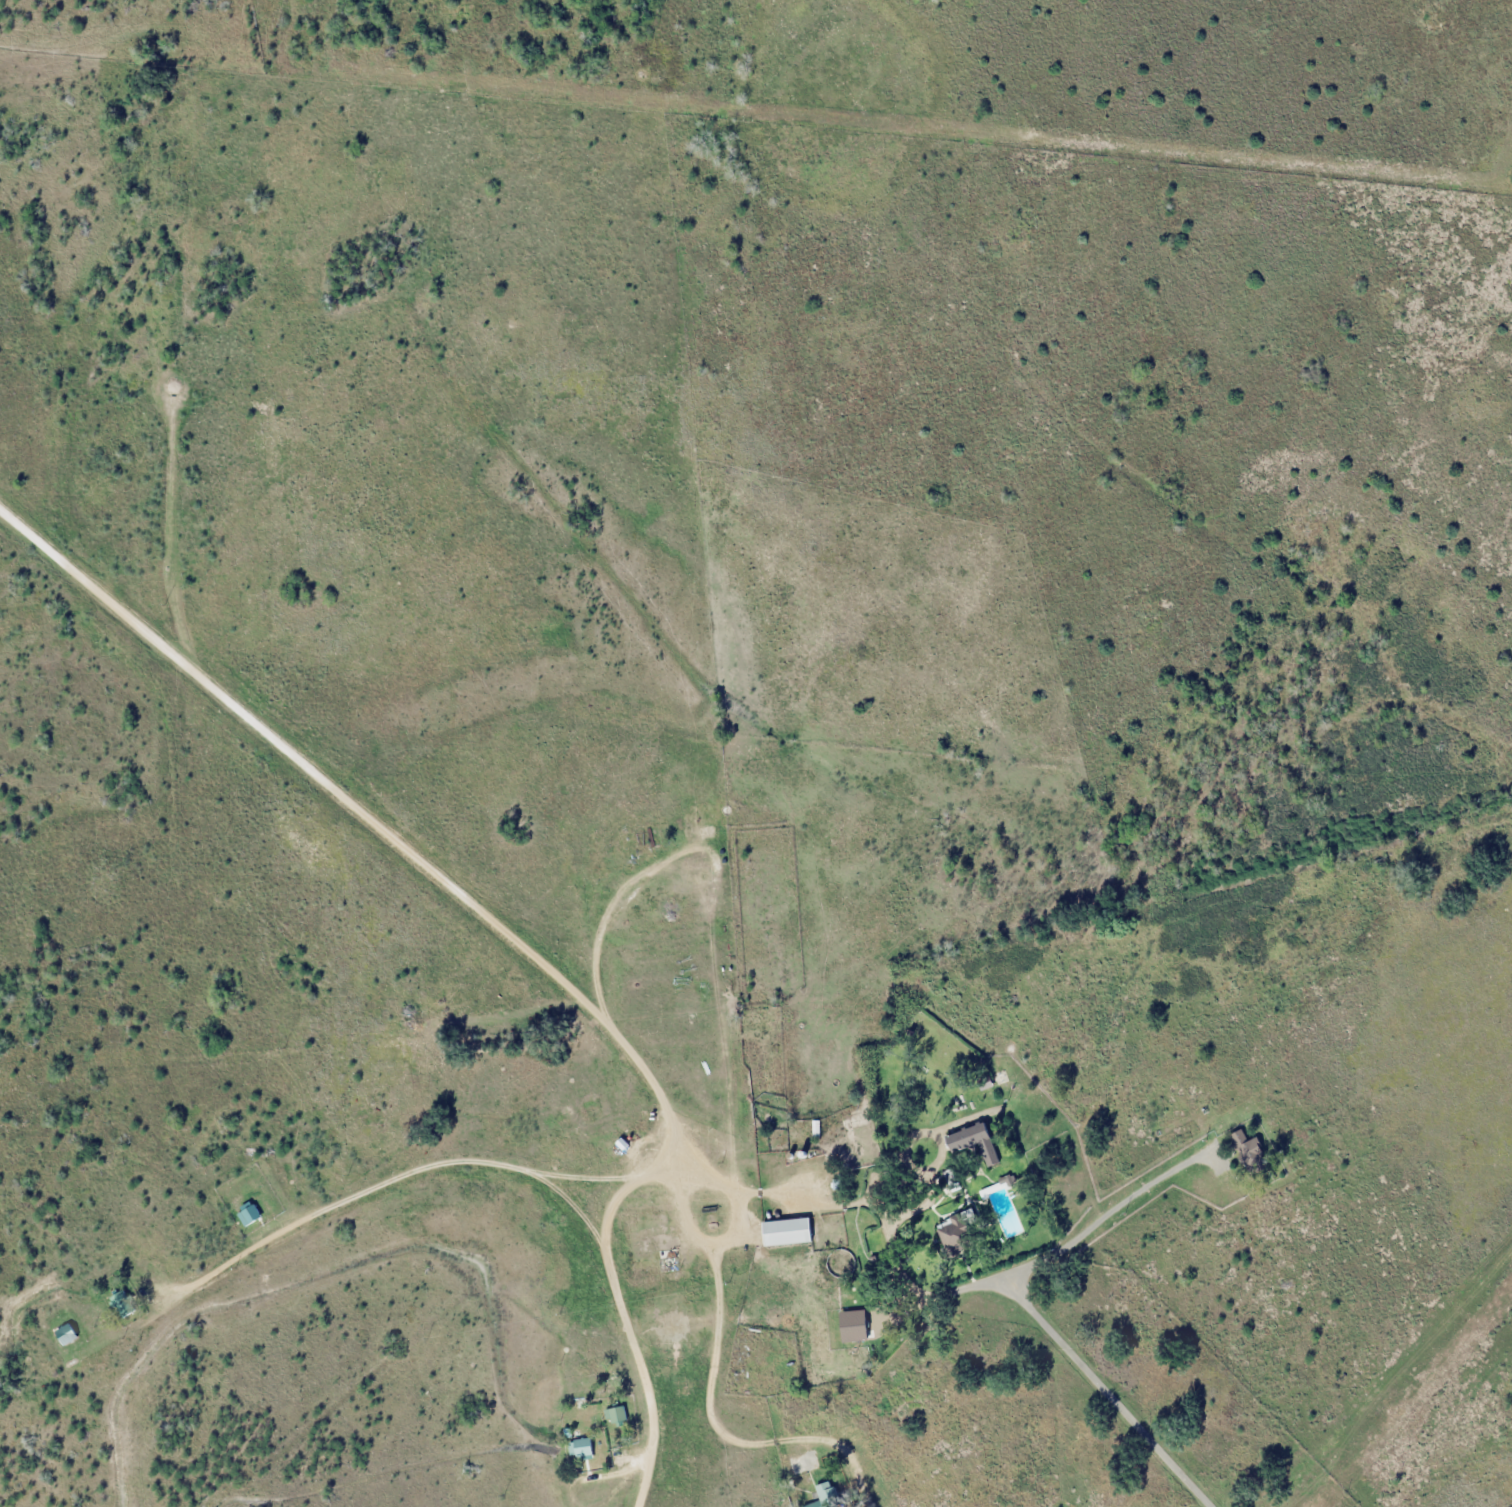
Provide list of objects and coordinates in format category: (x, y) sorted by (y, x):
road: (71, 579)
road: (574, 1001)
building: (974, 1142)
building: (1248, 1153)
building: (250, 1215)
building: (786, 1232)
building: (953, 1238)
building: (651, 1243)
building: (122, 1305)
building: (666, 1326)
building: (853, 1326)
building: (65, 1335)
road: (1120, 1406)
building: (616, 1418)
building: (580, 1448)
building: (826, 1496)

